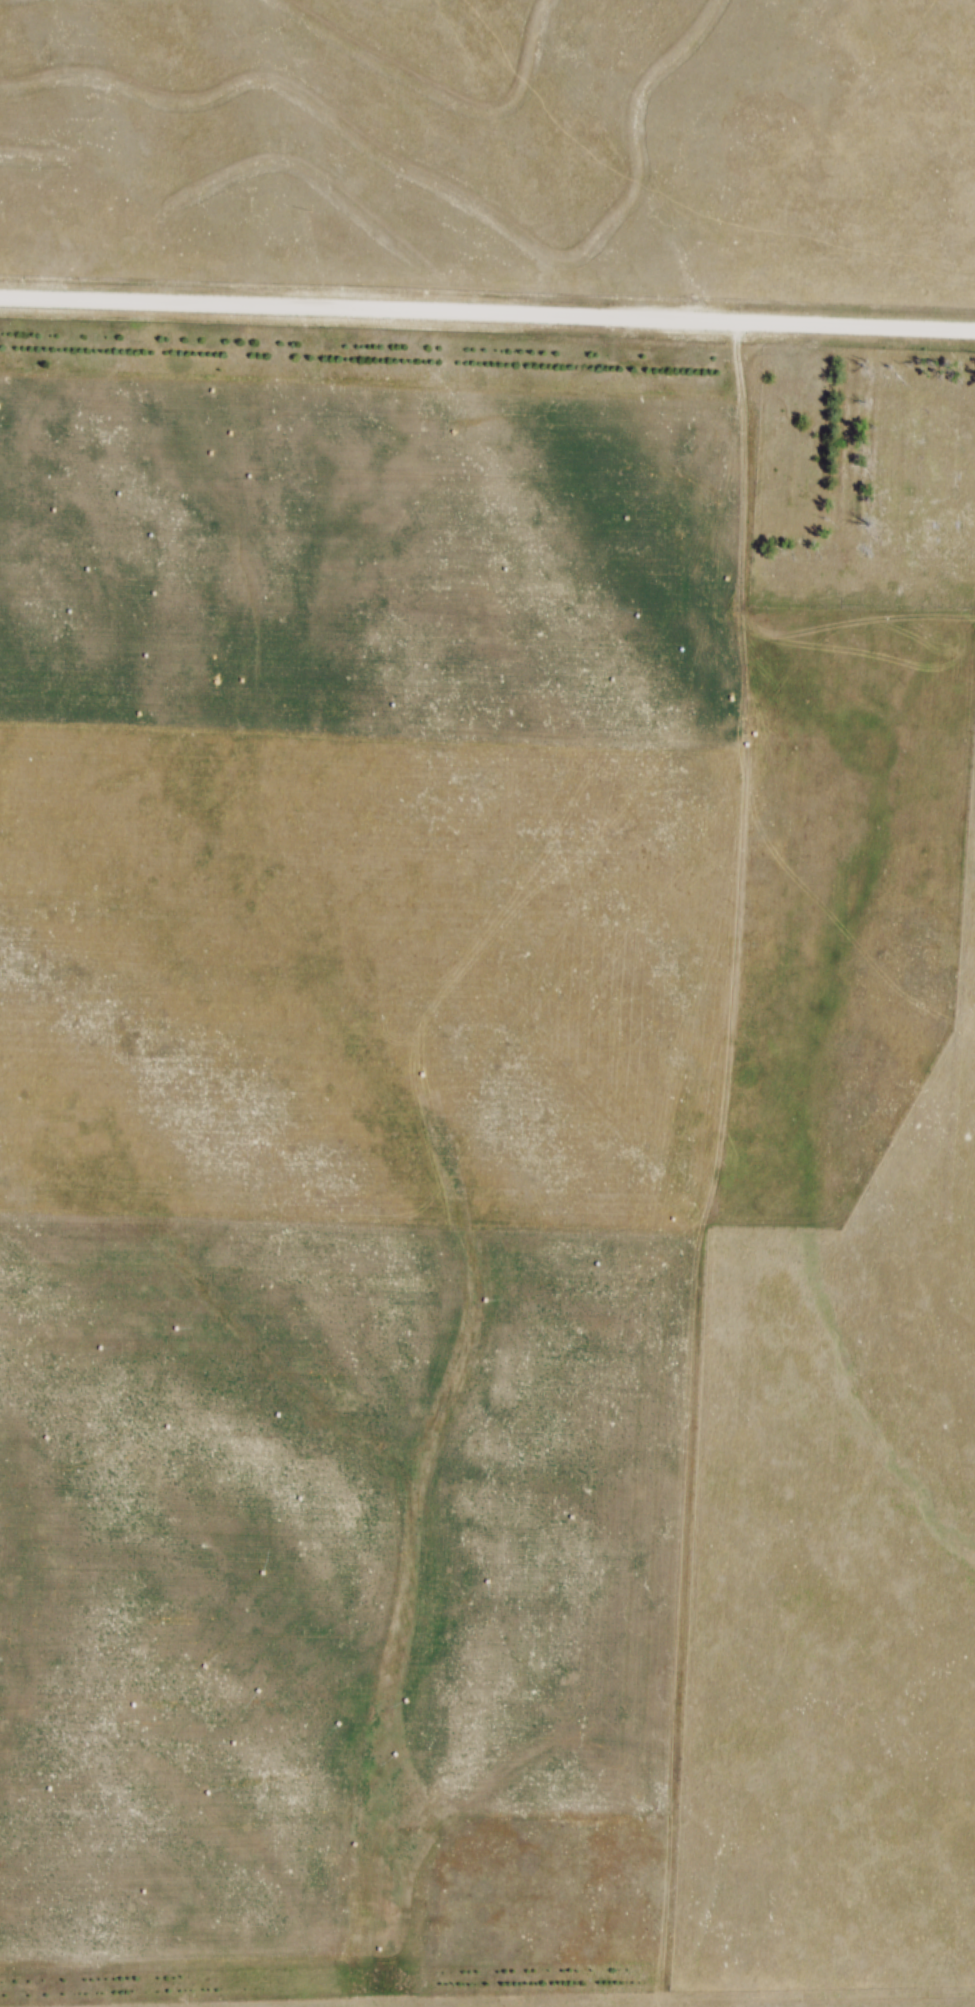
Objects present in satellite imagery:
road: (487, 310)

